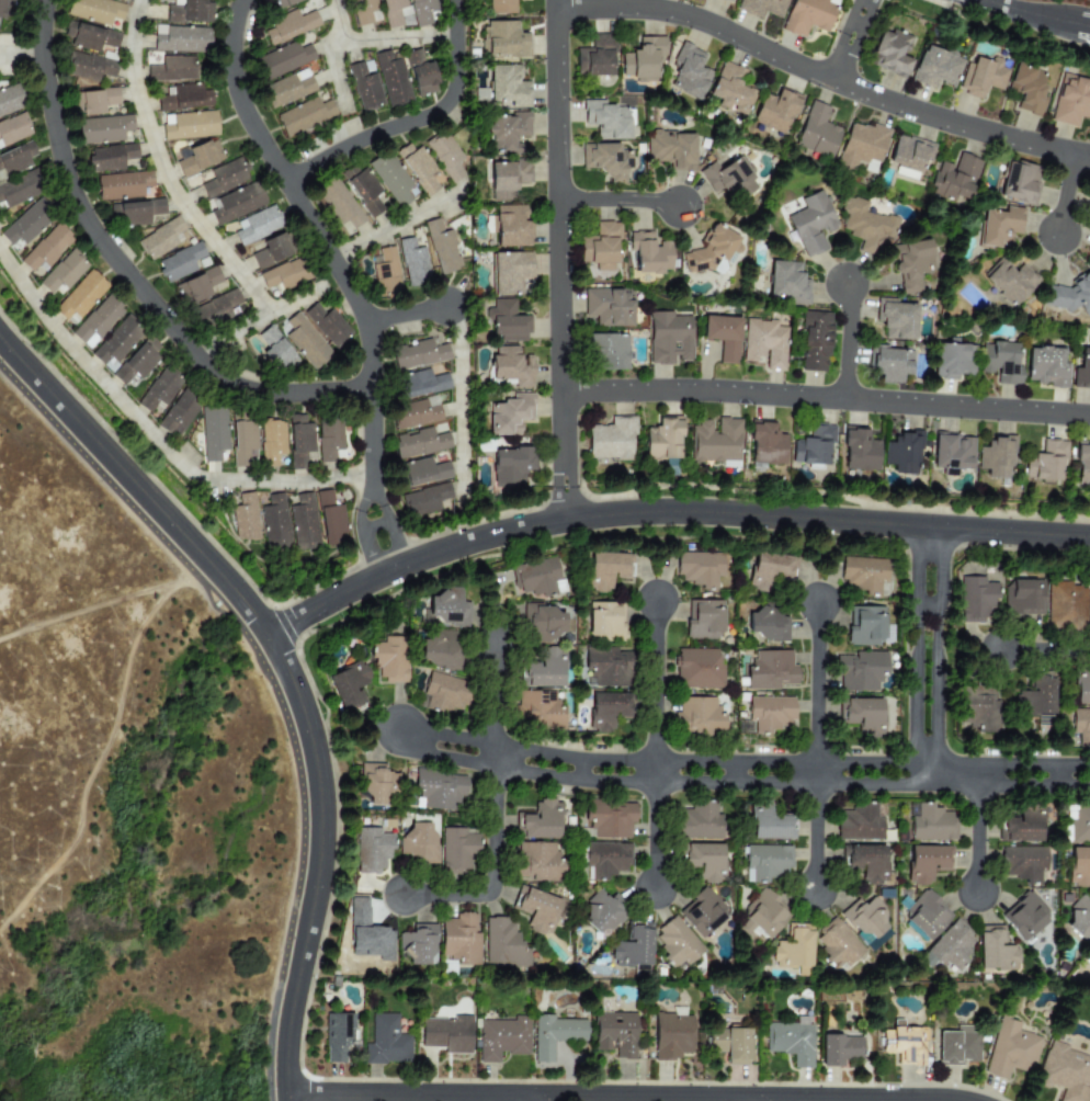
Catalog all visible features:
building: (726, 0)
building: (284, 3)
road: (553, 4)
building: (500, 7)
building: (761, 7)
building: (3, 9)
building: (94, 10)
building: (190, 11)
building: (364, 11)
building: (391, 12)
building: (423, 12)
road: (1027, 13)
building: (807, 15)
road: (856, 19)
road: (1077, 24)
road: (1085, 24)
building: (289, 26)
building: (89, 36)
road: (379, 38)
building: (181, 39)
building: (503, 39)
road: (20, 48)
building: (889, 53)
building: (594, 57)
building: (641, 57)
road: (841, 59)
building: (283, 60)
building: (935, 67)
road: (333, 68)
building: (172, 69)
building: (688, 72)
building: (420, 75)
road: (820, 76)
building: (981, 76)
building: (393, 78)
building: (365, 86)
building: (503, 87)
building: (288, 89)
building: (729, 89)
building: (1027, 89)
building: (184, 98)
building: (9, 101)
building: (1070, 101)
building: (93, 102)
building: (775, 110)
building: (304, 117)
road: (412, 120)
building: (605, 120)
building: (191, 126)
building: (13, 129)
building: (103, 129)
building: (507, 130)
building: (816, 132)
building: (861, 145)
building: (671, 148)
building: (445, 156)
building: (909, 156)
building: (110, 157)
building: (198, 157)
building: (15, 159)
building: (605, 160)
building: (419, 168)
road: (162, 171)
building: (225, 177)
building: (954, 178)
building: (391, 179)
building: (507, 179)
building: (727, 179)
building: (1019, 182)
building: (122, 185)
building: (19, 189)
building: (363, 190)
road: (1065, 193)
road: (293, 196)
road: (617, 200)
building: (1089, 201)
building: (338, 203)
building: (236, 204)
building: (135, 213)
building: (810, 223)
building: (865, 224)
building: (25, 225)
building: (257, 225)
road: (393, 226)
building: (511, 226)
building: (999, 227)
building: (160, 239)
building: (600, 246)
building: (442, 248)
building: (46, 249)
building: (271, 251)
building: (708, 251)
building: (649, 252)
building: (179, 263)
building: (412, 263)
road: (558, 264)
building: (911, 264)
building: (509, 271)
building: (63, 272)
building: (386, 272)
road: (125, 273)
building: (285, 275)
building: (785, 282)
building: (1009, 282)
building: (197, 286)
building: (1072, 294)
building: (79, 297)
building: (609, 306)
building: (216, 309)
road: (269, 313)
road: (406, 314)
building: (895, 319)
building: (506, 321)
building: (96, 322)
building: (327, 325)
building: (722, 336)
building: (668, 339)
road: (847, 340)
building: (306, 341)
building: (815, 341)
building: (116, 342)
building: (763, 343)
building: (274, 349)
building: (608, 351)
building: (418, 354)
building: (137, 361)
building: (952, 361)
building: (1000, 362)
building: (889, 363)
building: (511, 366)
building: (1046, 367)
building: (1081, 370)
building: (423, 384)
building: (159, 390)
road: (826, 398)
road: (459, 402)
building: (178, 413)
building: (416, 413)
building: (509, 415)
building: (213, 433)
road: (152, 435)
road: (371, 435)
building: (328, 439)
building: (610, 439)
building: (662, 439)
building: (715, 440)
building: (271, 442)
building: (299, 442)
building: (242, 443)
building: (420, 443)
building: (765, 443)
building: (813, 445)
building: (859, 450)
building: (901, 453)
building: (951, 453)
building: (995, 457)
building: (1044, 462)
building: (510, 464)
building: (1081, 465)
building: (421, 473)
road: (135, 486)
building: (424, 500)
road: (381, 501)
road: (127, 503)
road: (361, 504)
road: (666, 512)
building: (245, 518)
building: (330, 519)
building: (274, 523)
building: (303, 523)
road: (374, 525)
road: (394, 544)
road: (368, 555)
building: (699, 568)
building: (606, 570)
building: (769, 570)
building: (863, 574)
building: (535, 577)
road: (927, 593)
building: (1022, 597)
building: (975, 600)
building: (1064, 605)
building: (446, 608)
building: (1089, 614)
building: (703, 618)
building: (603, 621)
building: (542, 624)
building: (765, 624)
building: (866, 626)
road: (258, 639)
building: (439, 648)
road: (1049, 651)
building: (388, 658)
building: (605, 667)
building: (543, 669)
building: (696, 669)
building: (770, 670)
building: (859, 670)
building: (348, 684)
building: (1081, 685)
road: (654, 690)
building: (444, 693)
road: (815, 694)
building: (1035, 696)
building: (977, 707)
road: (495, 708)
building: (536, 710)
building: (606, 710)
building: (770, 714)
building: (861, 715)
building: (697, 716)
road: (924, 722)
building: (1081, 725)
road: (690, 761)
road: (572, 777)
building: (376, 783)
road: (871, 783)
building: (439, 791)
park: (133, 799)
building: (610, 818)
building: (538, 820)
building: (697, 821)
building: (768, 822)
building: (859, 822)
building: (931, 822)
building: (1078, 822)
building: (1020, 825)
road: (977, 827)
road: (652, 835)
road: (815, 838)
building: (419, 841)
building: (457, 849)
building: (371, 850)
road: (319, 860)
building: (605, 860)
building: (704, 860)
building: (538, 861)
building: (864, 862)
building: (926, 862)
building: (767, 863)
building: (1022, 863)
building: (1079, 866)
road: (302, 867)
road: (491, 871)
building: (535, 908)
building: (602, 912)
building: (702, 912)
building: (927, 916)
building: (762, 917)
building: (1024, 917)
building: (1079, 918)
building: (865, 921)
building: (459, 939)
building: (503, 942)
building: (677, 942)
building: (418, 945)
building: (633, 945)
building: (837, 945)
building: (793, 947)
building: (950, 947)
building: (995, 950)
building: (1087, 956)
building: (614, 1033)
building: (447, 1034)
building: (554, 1034)
building: (672, 1035)
building: (336, 1036)
building: (502, 1038)
building: (791, 1040)
building: (386, 1041)
building: (905, 1043)
building: (729, 1044)
building: (956, 1045)
building: (1010, 1048)
building: (839, 1049)
building: (1065, 1071)
road: (285, 1097)
road: (616, 1097)
road: (540, 1099)
road: (762, 1100)

